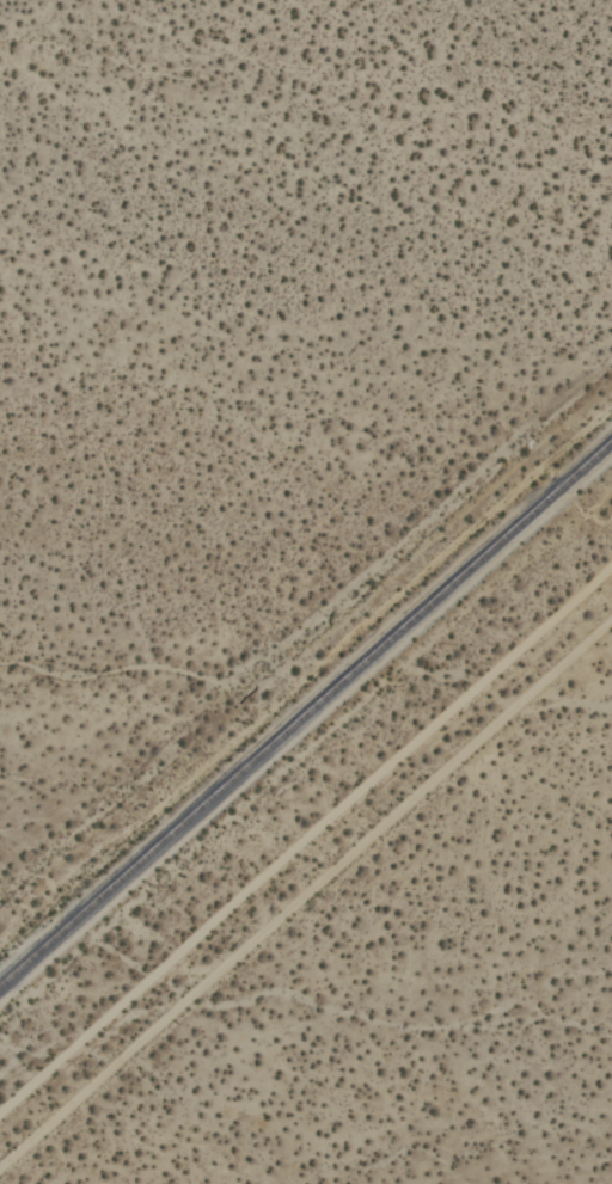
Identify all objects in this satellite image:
crop: (306, 591)
railway: (306, 708)

